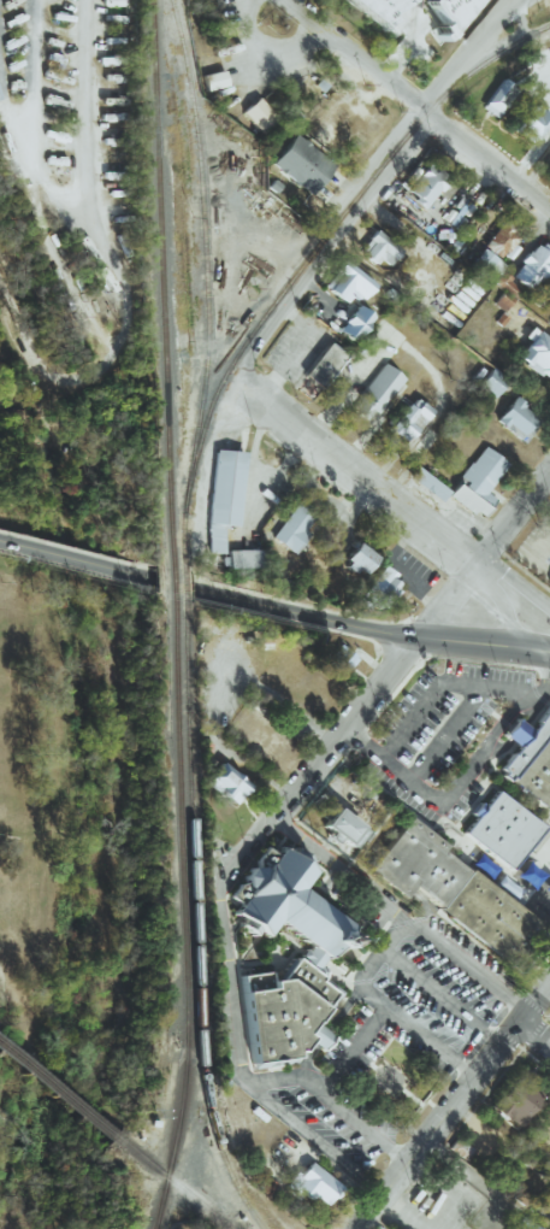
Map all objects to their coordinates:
road: (509, 2)
road: (283, 10)
building: (374, 10)
building: (444, 10)
road: (262, 46)
road: (407, 47)
road: (459, 59)
building: (497, 98)
building: (258, 114)
road: (422, 120)
building: (526, 120)
building: (549, 159)
building: (302, 163)
road: (365, 170)
road: (84, 171)
building: (425, 184)
railway: (324, 237)
building: (499, 239)
building: (377, 248)
railway: (202, 254)
road: (324, 254)
building: (484, 263)
building: (532, 265)
building: (347, 282)
railway: (160, 284)
building: (504, 293)
building: (353, 323)
building: (537, 354)
building: (323, 364)
building: (491, 382)
building: (374, 392)
building: (409, 419)
building: (516, 419)
road: (348, 481)
building: (477, 482)
building: (427, 483)
building: (223, 495)
building: (294, 527)
railway: (182, 541)
road: (66, 558)
building: (241, 558)
building: (356, 559)
road: (519, 568)
railway: (171, 582)
railway: (182, 584)
building: (549, 584)
building: (379, 589)
road: (510, 593)
road: (230, 598)
road: (489, 605)
road: (438, 639)
road: (409, 645)
building: (339, 659)
road: (438, 683)
road: (384, 702)
building: (530, 758)
building: (225, 783)
road: (457, 783)
building: (361, 804)
building: (339, 828)
building: (502, 829)
road: (323, 868)
building: (454, 896)
railway: (182, 915)
railway: (193, 921)
road: (221, 954)
building: (309, 962)
road: (449, 965)
road: (366, 966)
road: (439, 996)
road: (539, 1012)
road: (534, 1029)
road: (532, 1034)
parking lot: (437, 1047)
road: (350, 1049)
road: (526, 1053)
railway: (57, 1092)
building: (514, 1099)
road: (449, 1102)
railway: (173, 1182)
building: (311, 1184)
building: (519, 1196)
building: (546, 1202)
road: (403, 1212)
building: (520, 1224)

